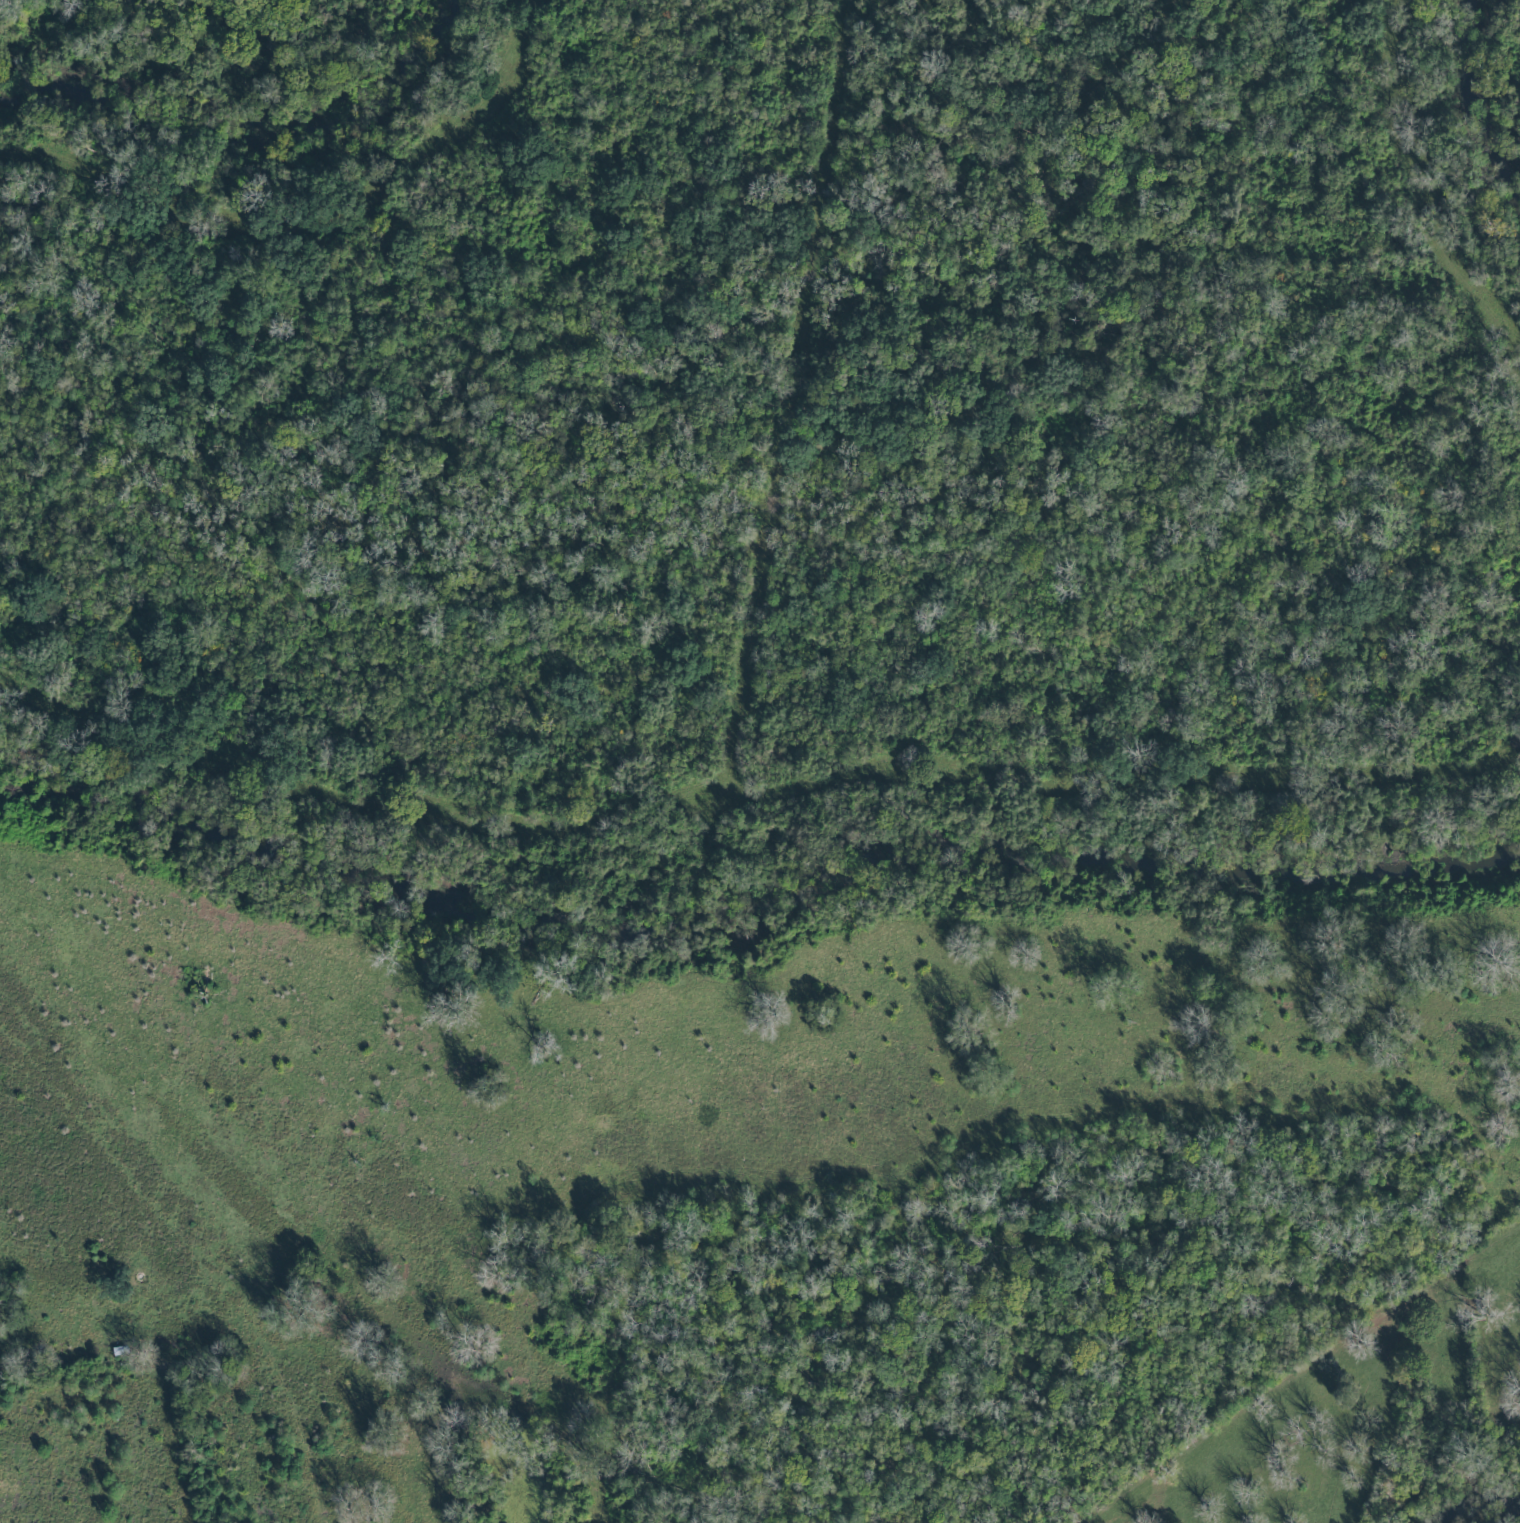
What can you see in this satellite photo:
road: (1308, 1378)

